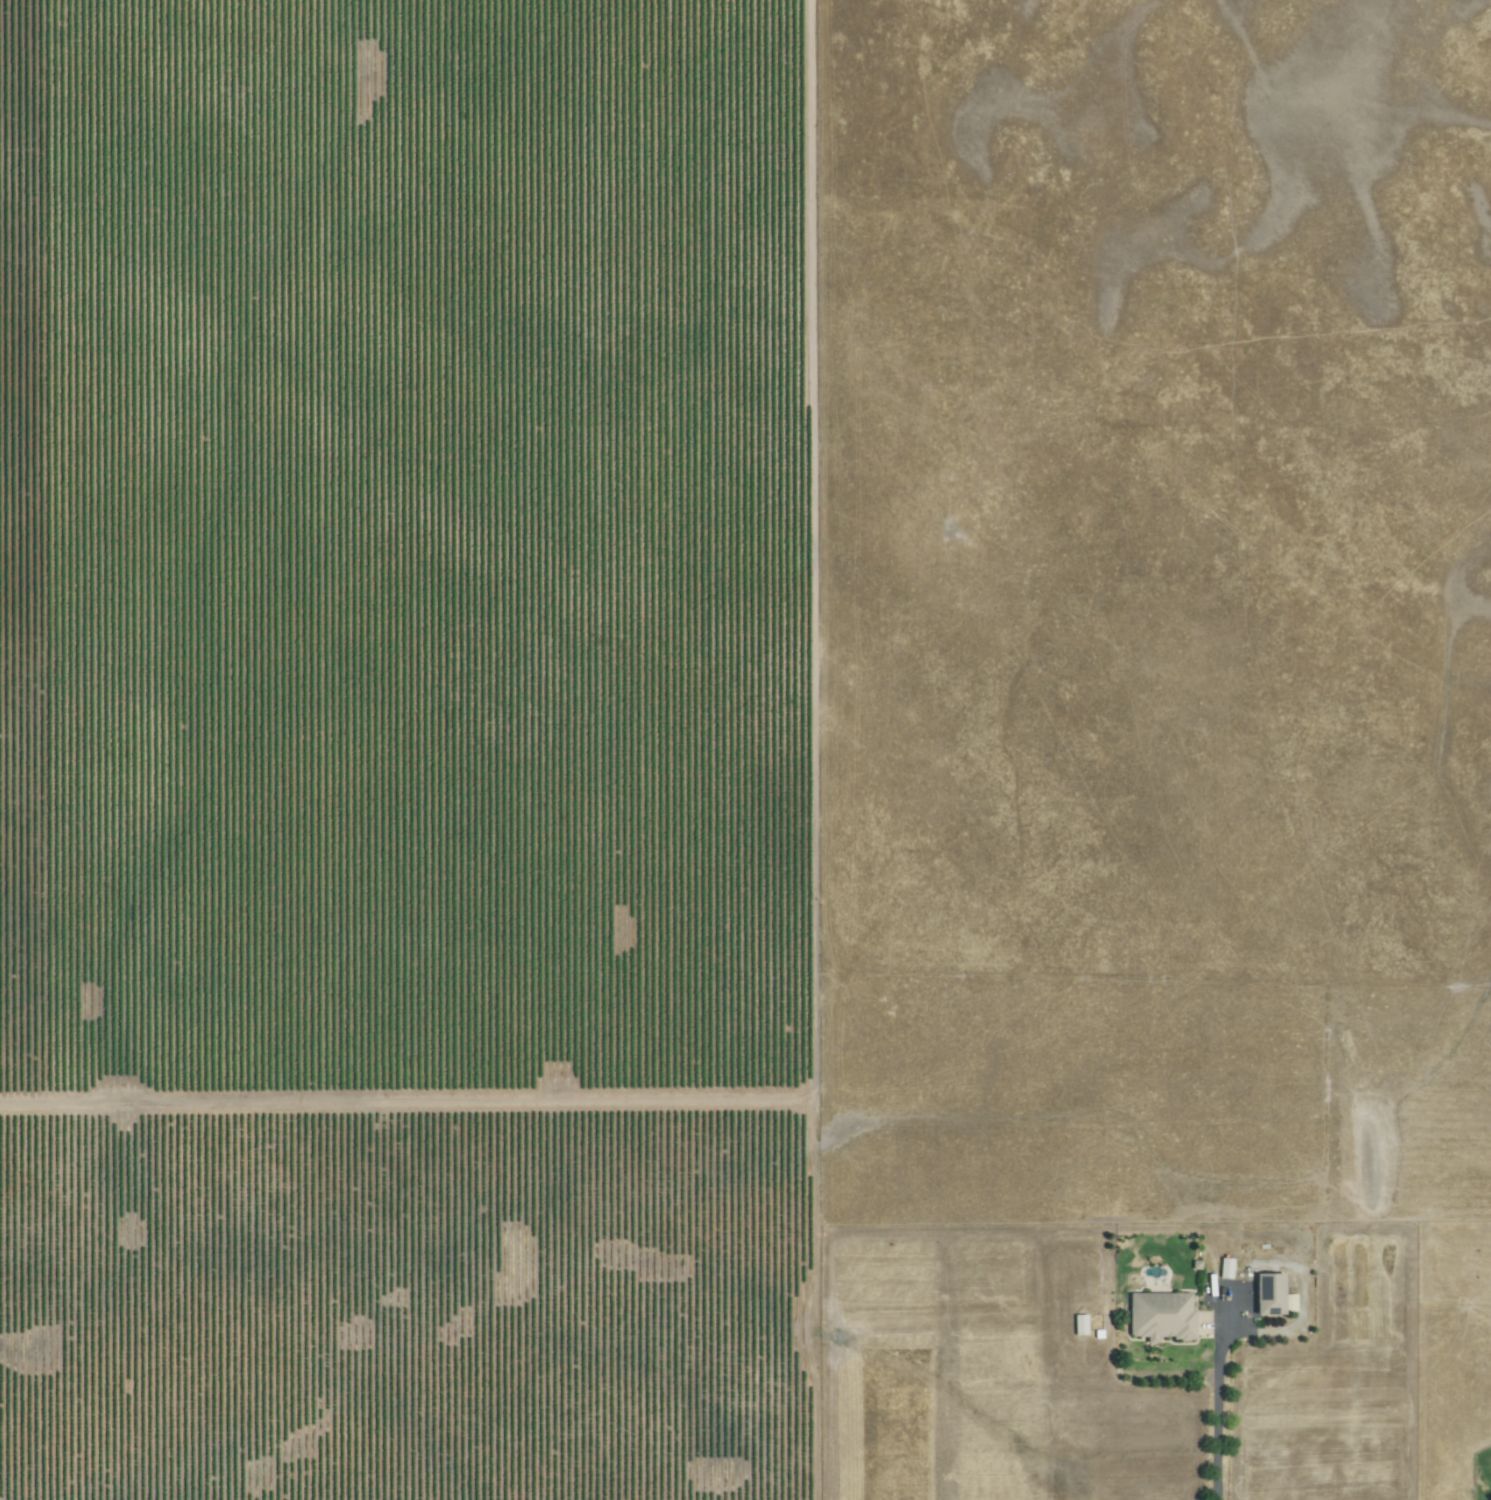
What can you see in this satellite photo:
building: (1266, 1295)
building: (1321, 1301)
building: (1159, 1317)
road: (1218, 1413)

